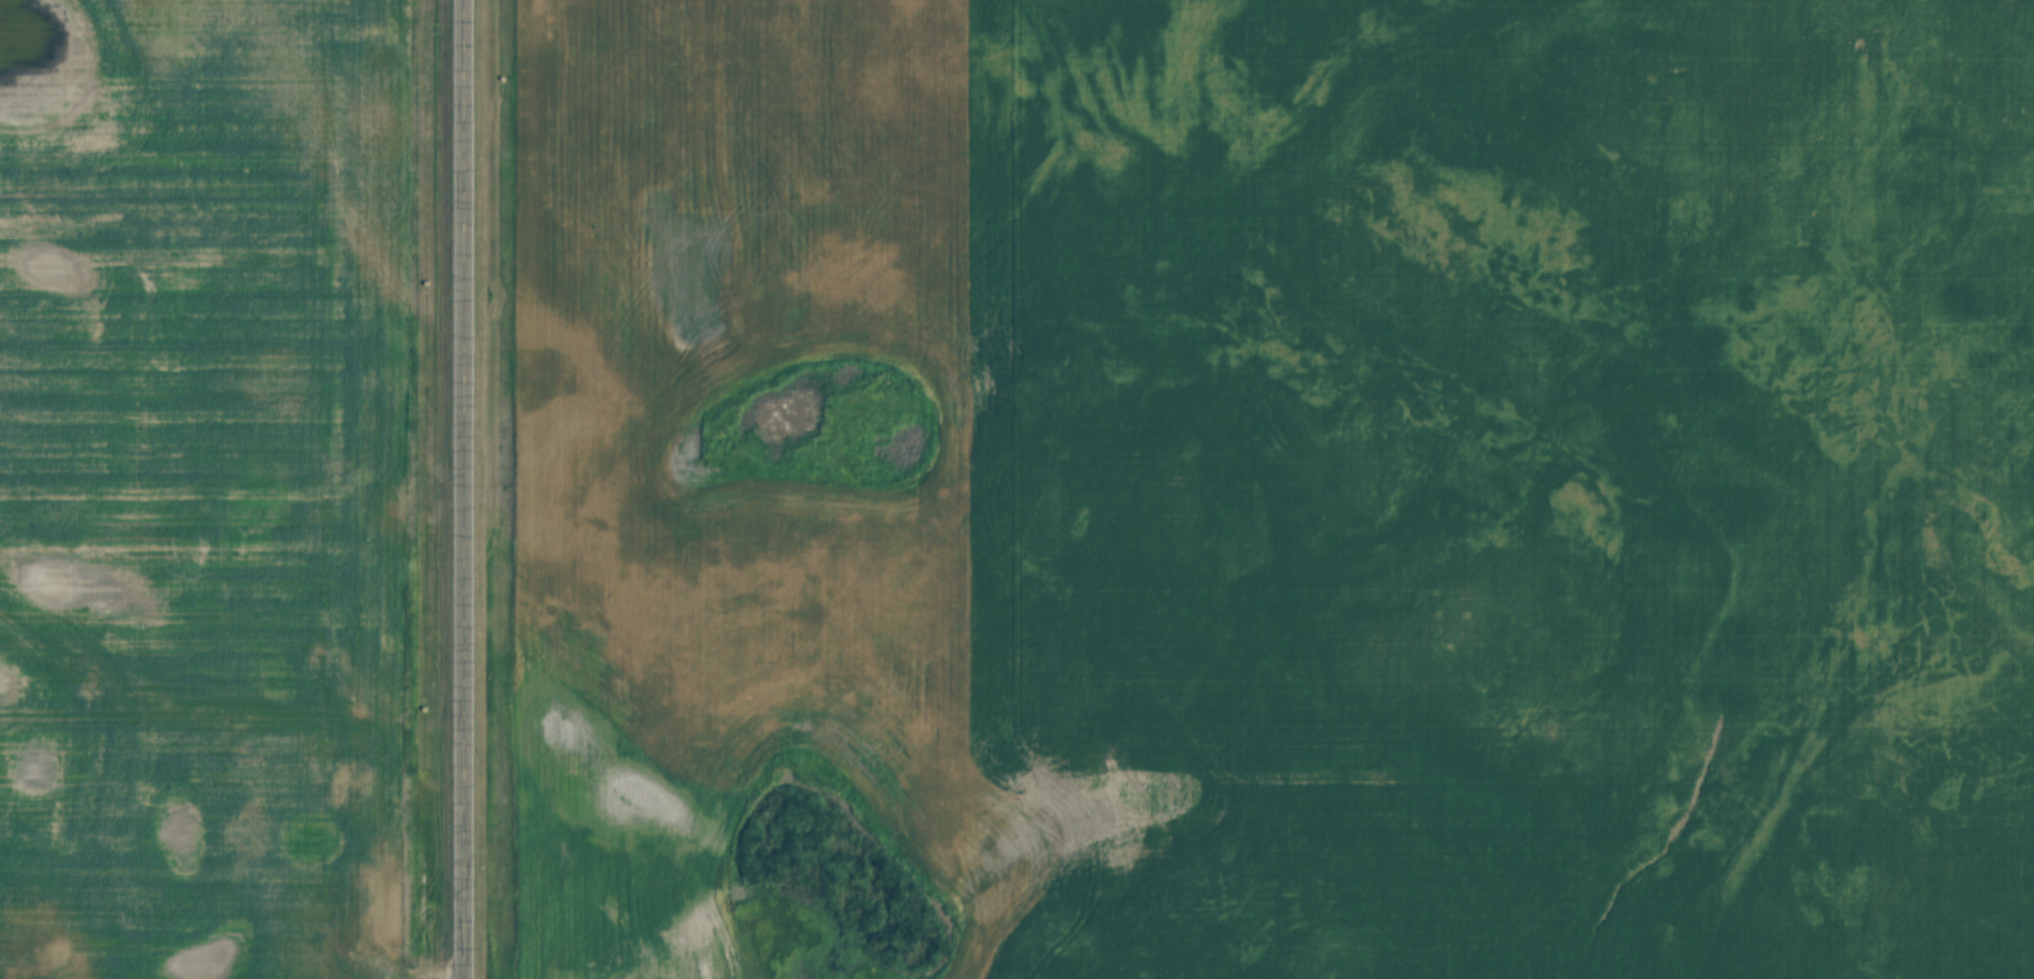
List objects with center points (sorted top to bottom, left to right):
road: (463, 489)

